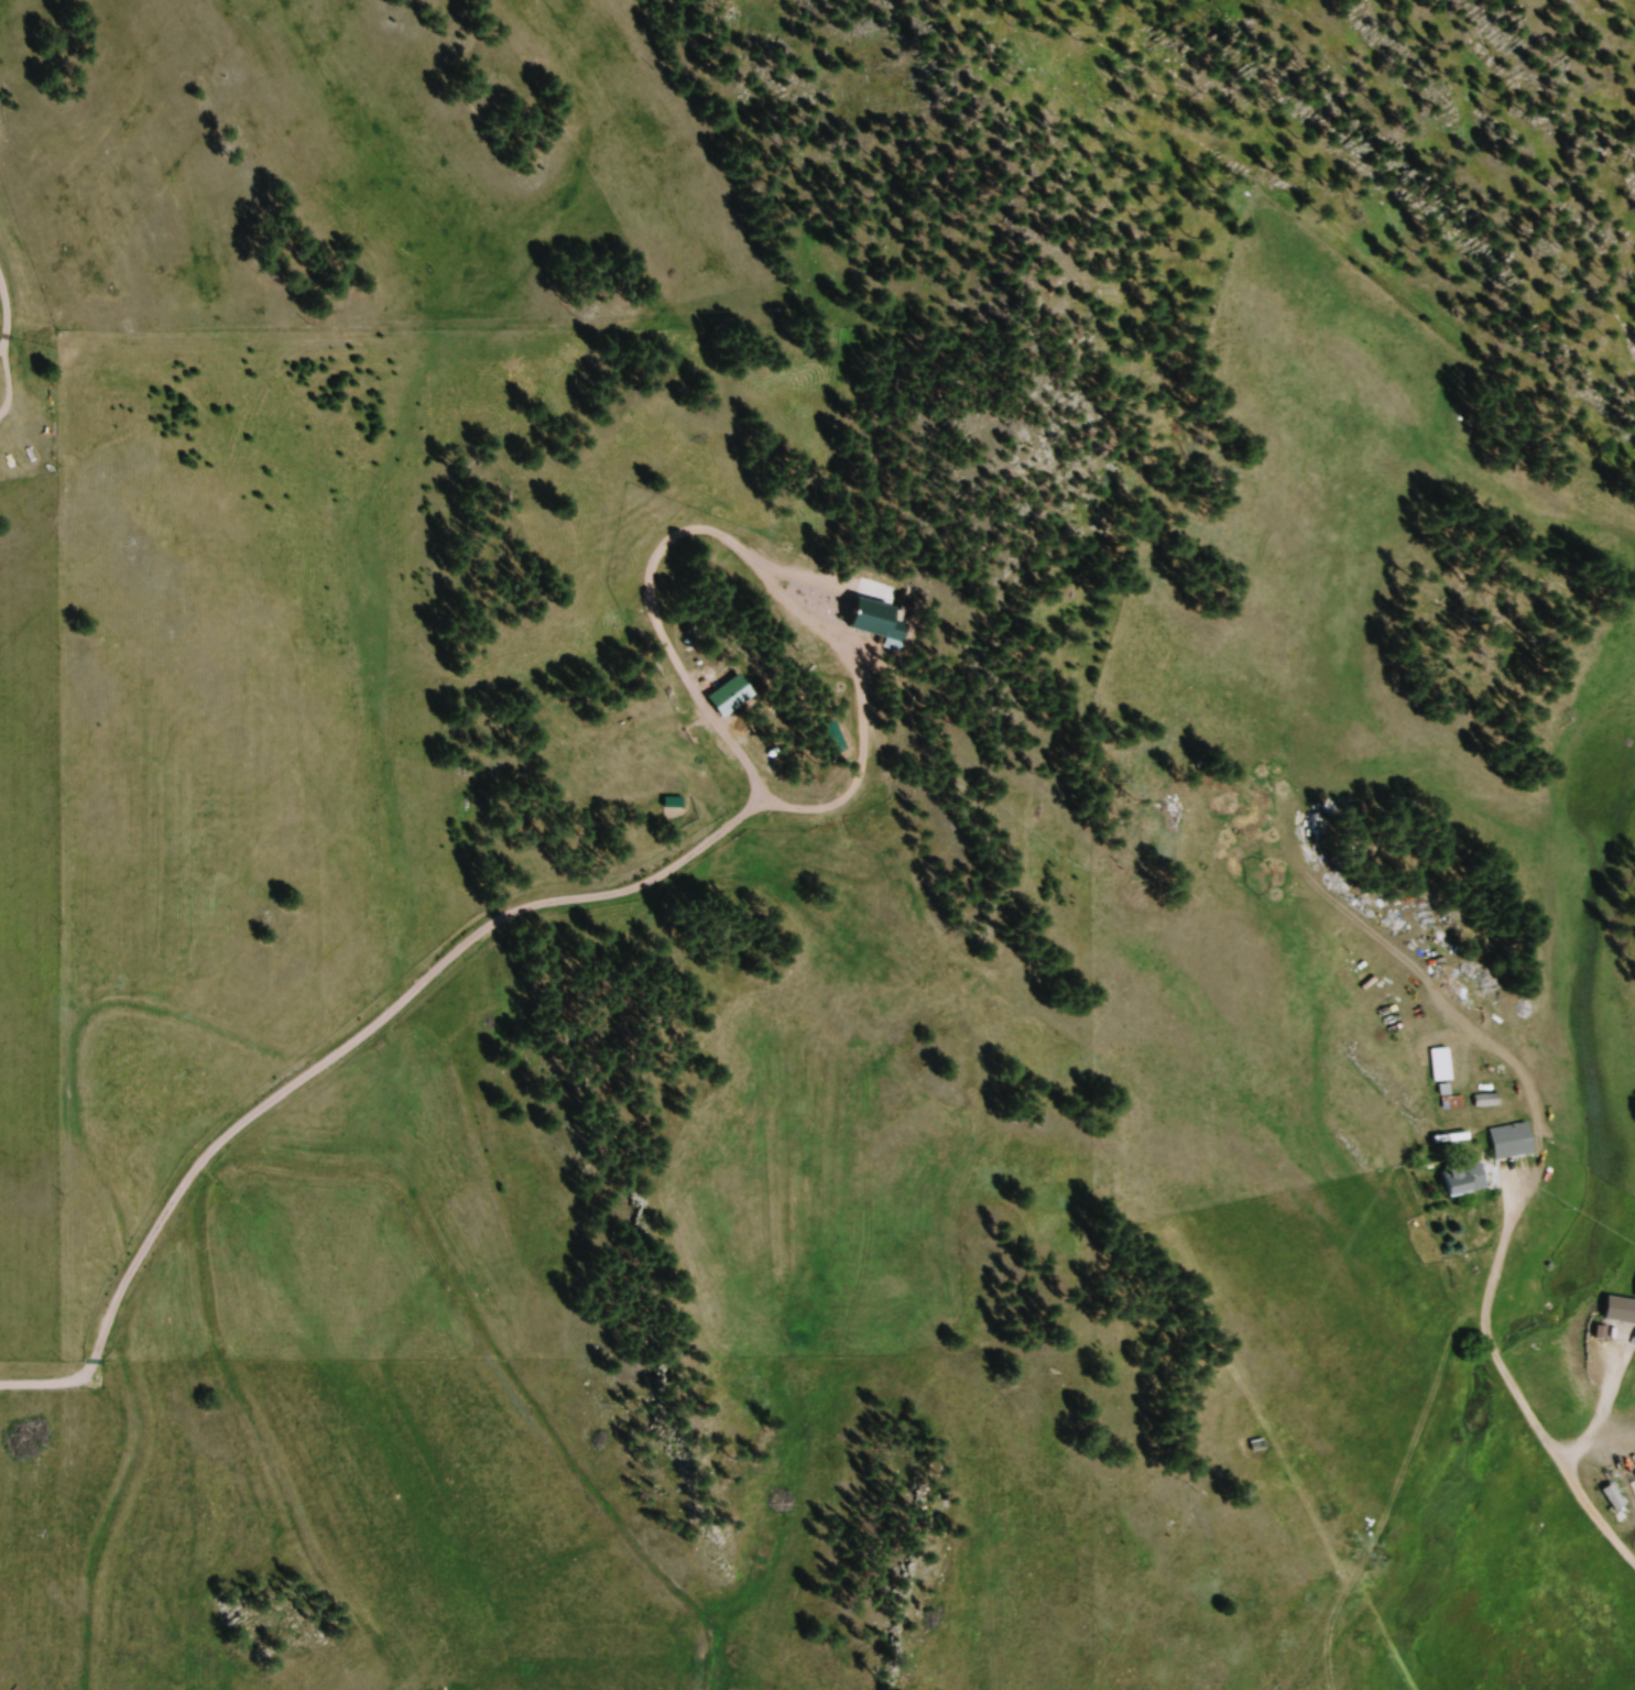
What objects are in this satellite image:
building: (887, 636)
building: (1507, 1144)
building: (1456, 1182)
building: (1617, 1311)
building: (1583, 1380)
road: (1570, 1475)
building: (1611, 1498)

